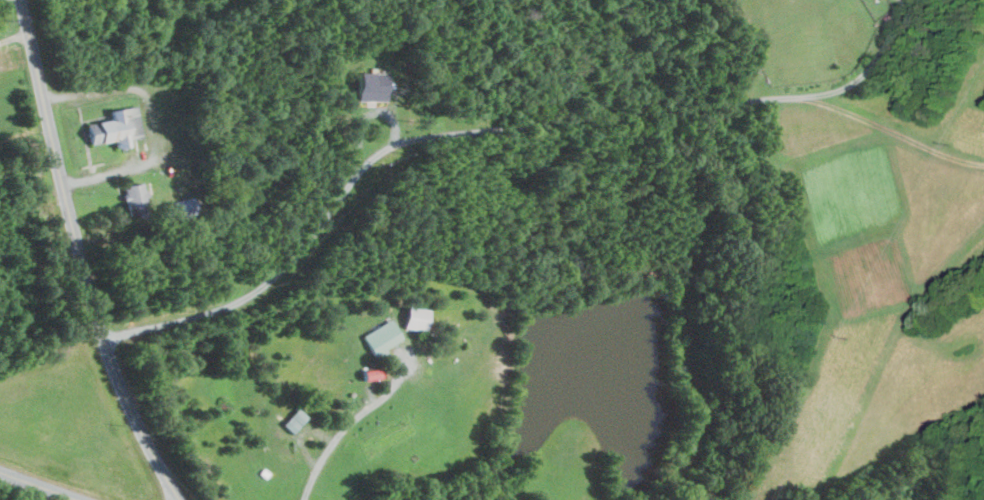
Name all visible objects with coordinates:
road: (13, 34)
building: (365, 86)
road: (154, 115)
building: (111, 127)
road: (491, 128)
building: (130, 195)
road: (79, 256)
building: (410, 318)
building: (376, 337)
building: (290, 419)
road: (341, 429)
road: (39, 486)

